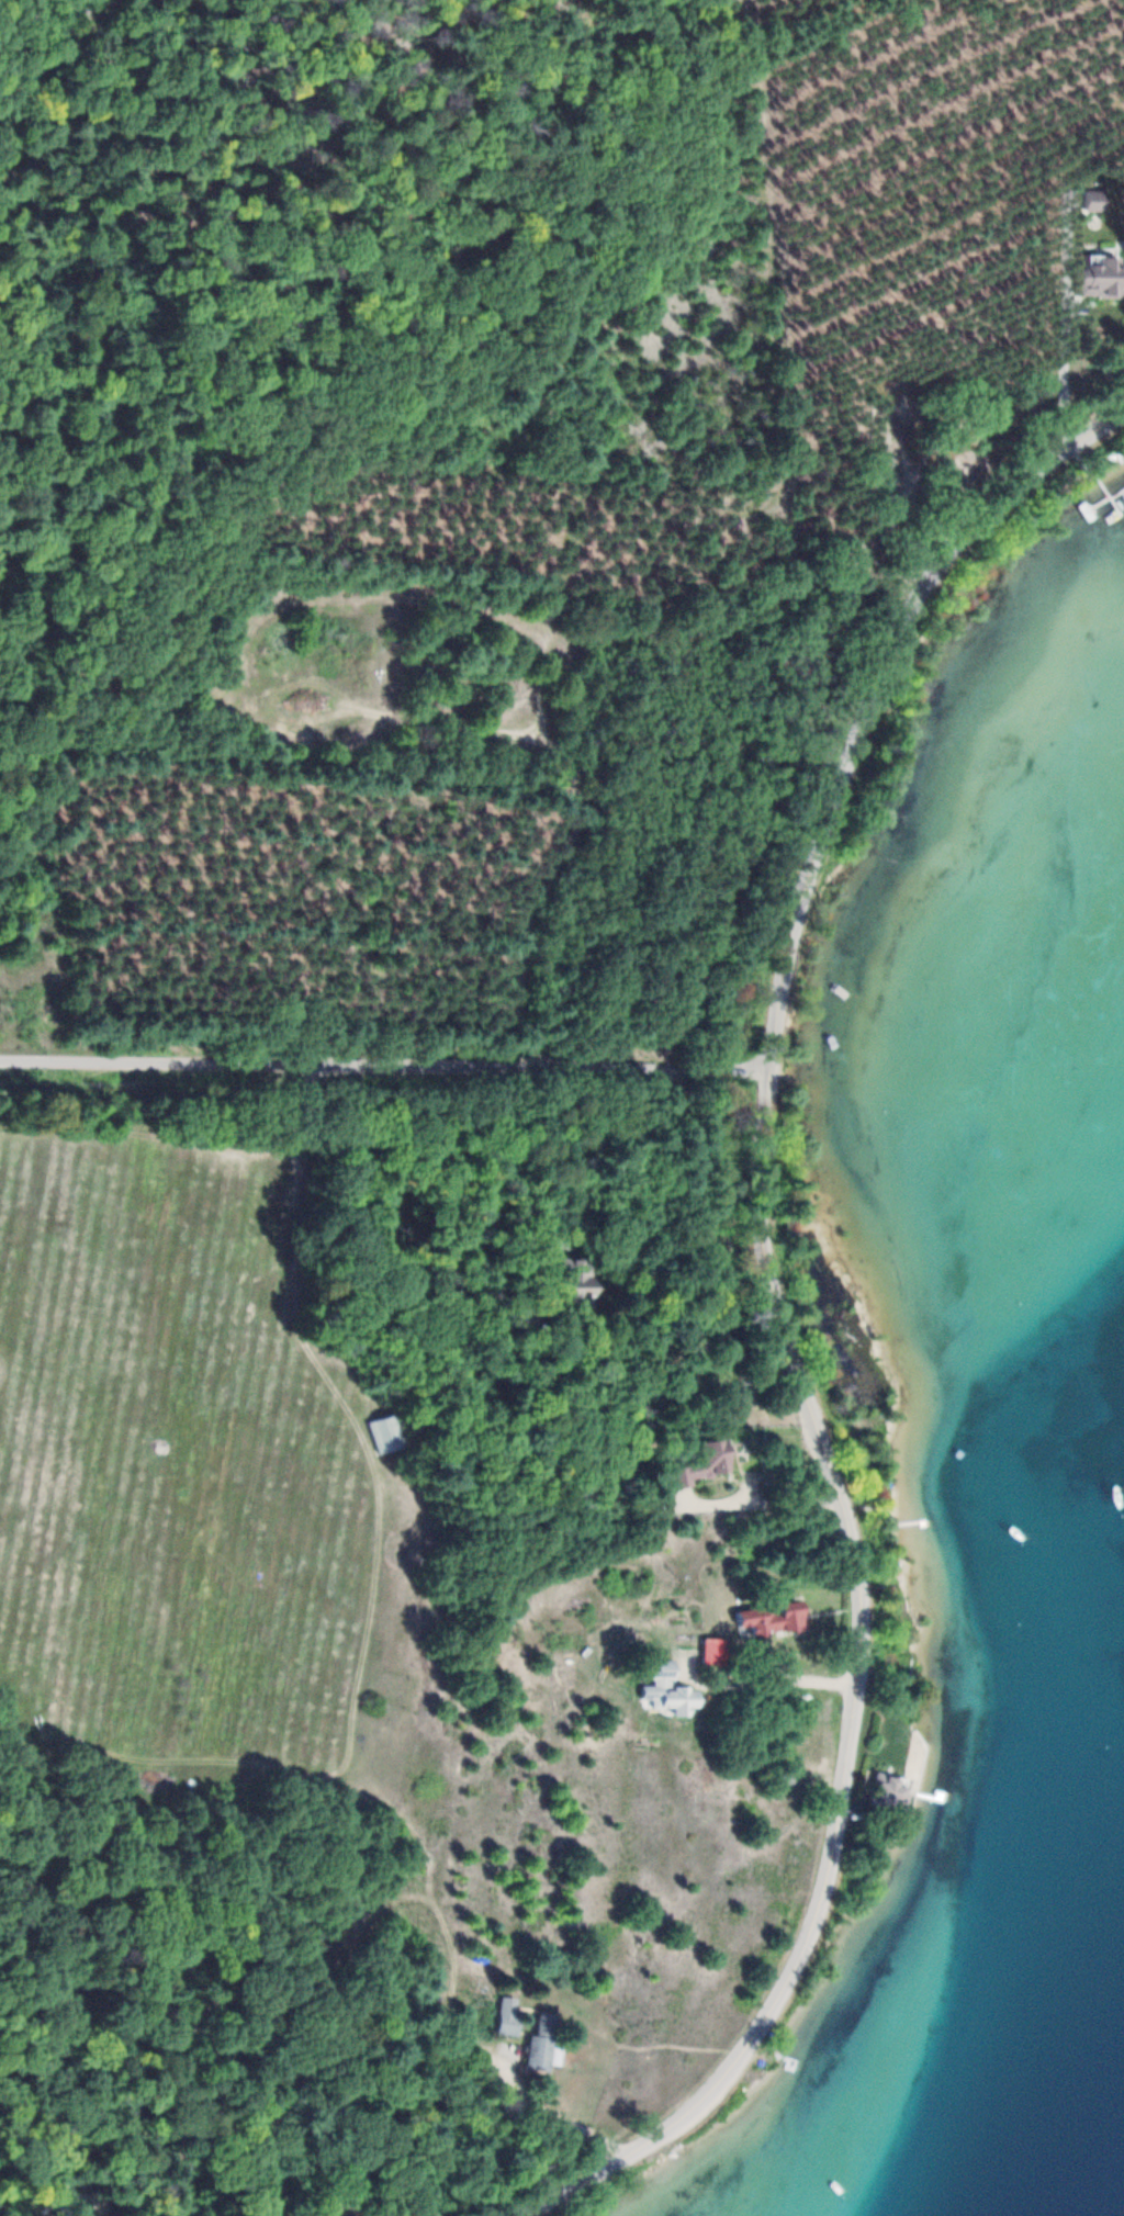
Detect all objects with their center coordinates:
road: (45, 43)
building: (1094, 201)
building: (1102, 274)
park: (928, 468)
road: (386, 1068)
building: (578, 1285)
road: (791, 1334)
building: (387, 1431)
building: (706, 1461)
building: (772, 1618)
building: (671, 1688)
building: (889, 1790)
building: (408, 1977)
building: (507, 2022)
building: (543, 2039)

